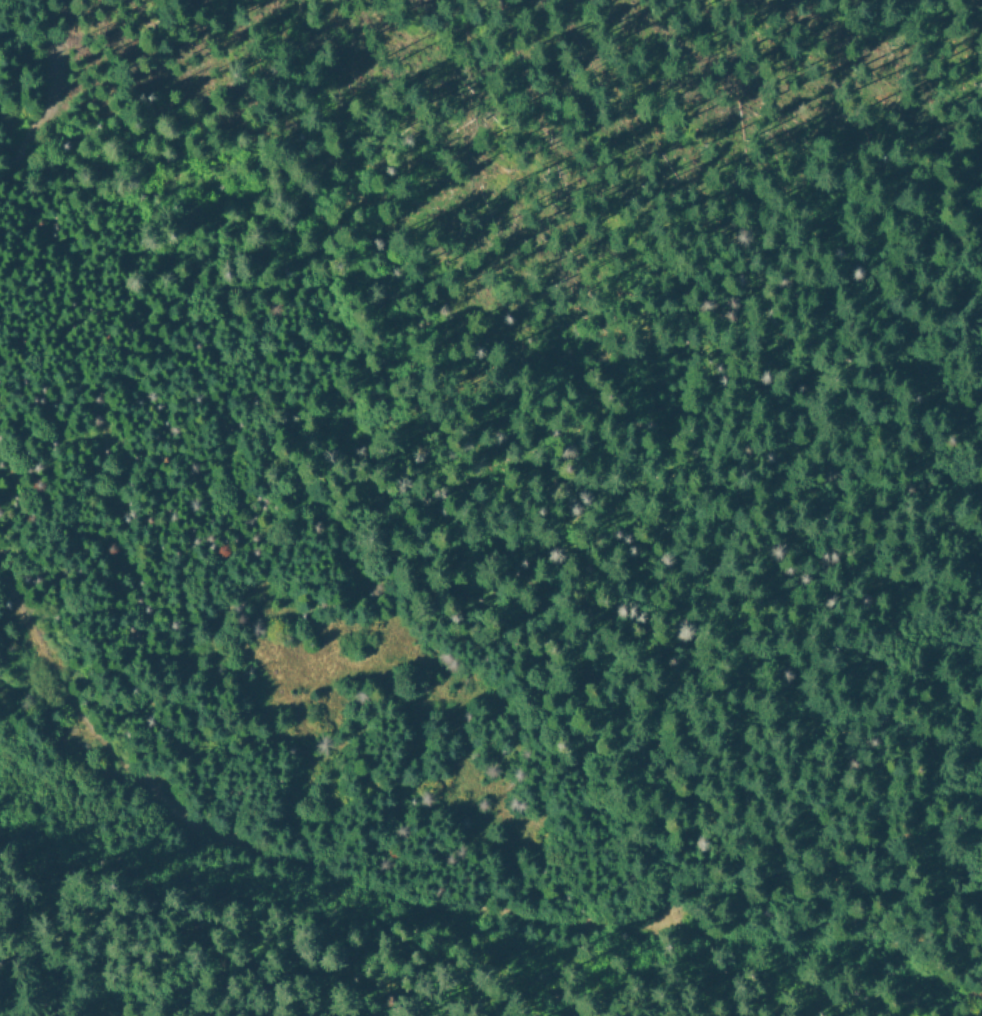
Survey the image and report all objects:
road: (42, 90)
road: (428, 898)
road: (975, 1010)

